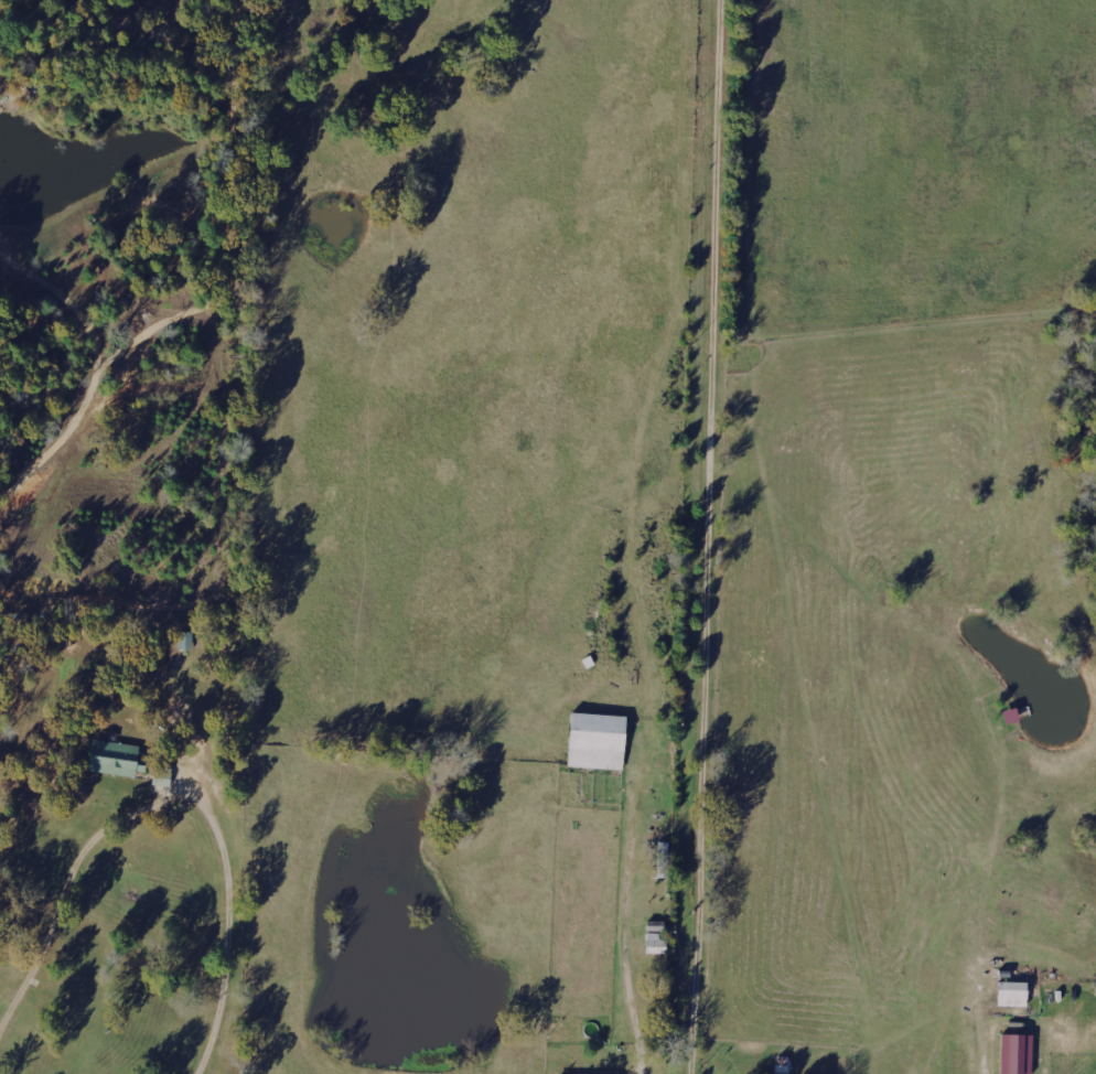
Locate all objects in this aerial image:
building: (595, 741)
building: (114, 758)
building: (161, 777)
building: (655, 939)
building: (1011, 994)
building: (1016, 1054)

